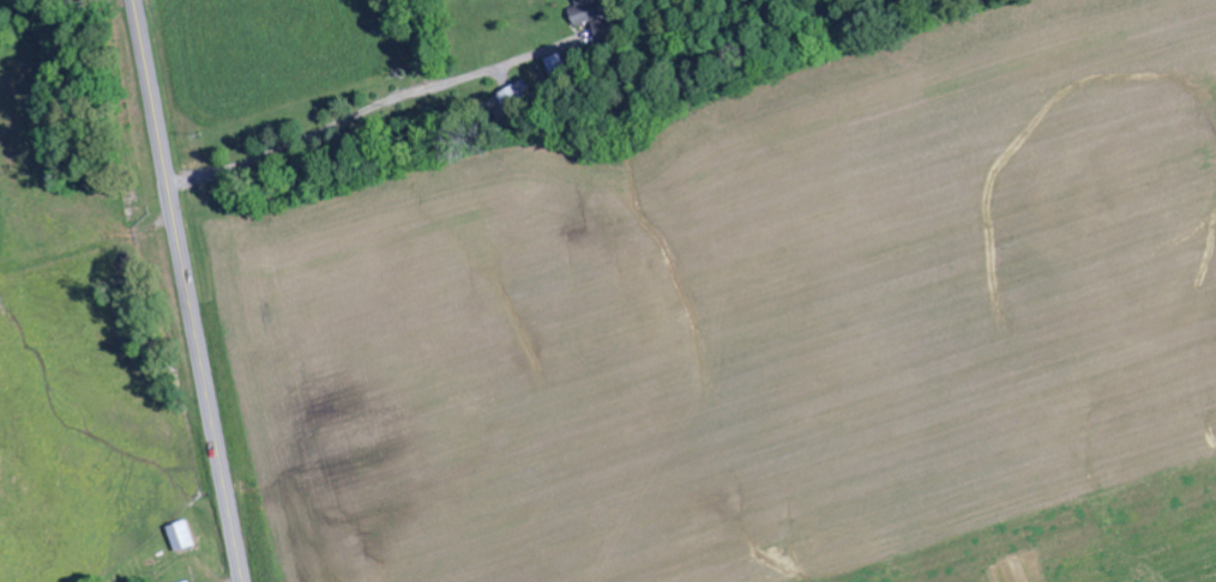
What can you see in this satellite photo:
building: (590, 18)
road: (303, 91)
building: (511, 102)
road: (189, 290)
building: (181, 536)

